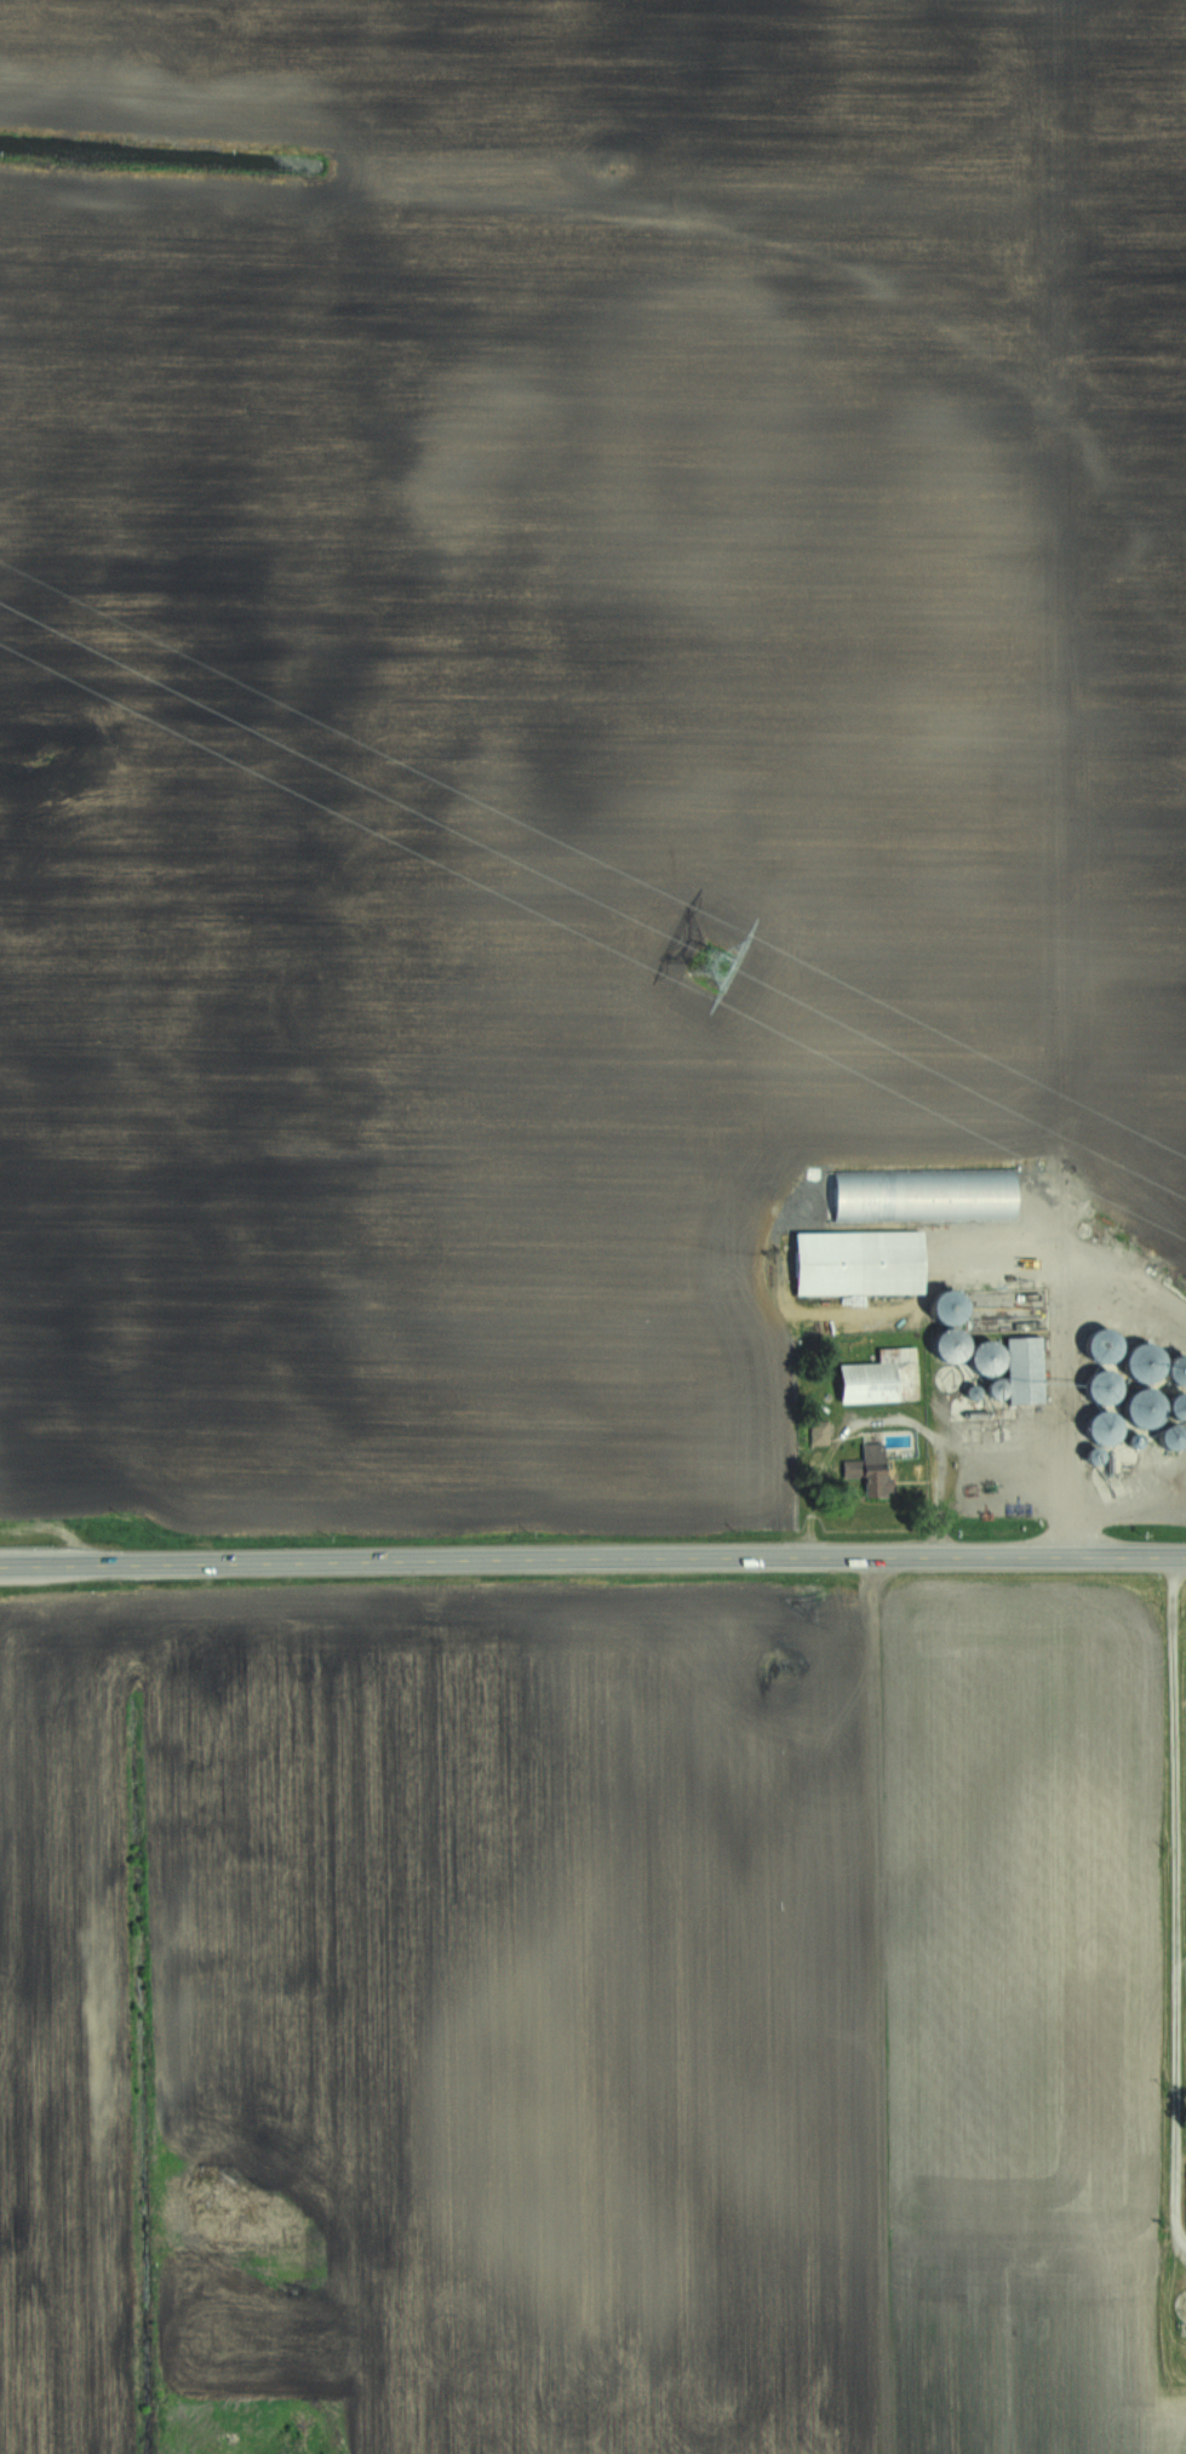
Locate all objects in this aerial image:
power tower: (709, 957)
building: (858, 1263)
building: (1015, 1345)
building: (881, 1377)
building: (876, 1471)
road: (592, 1557)
road: (1168, 1905)

